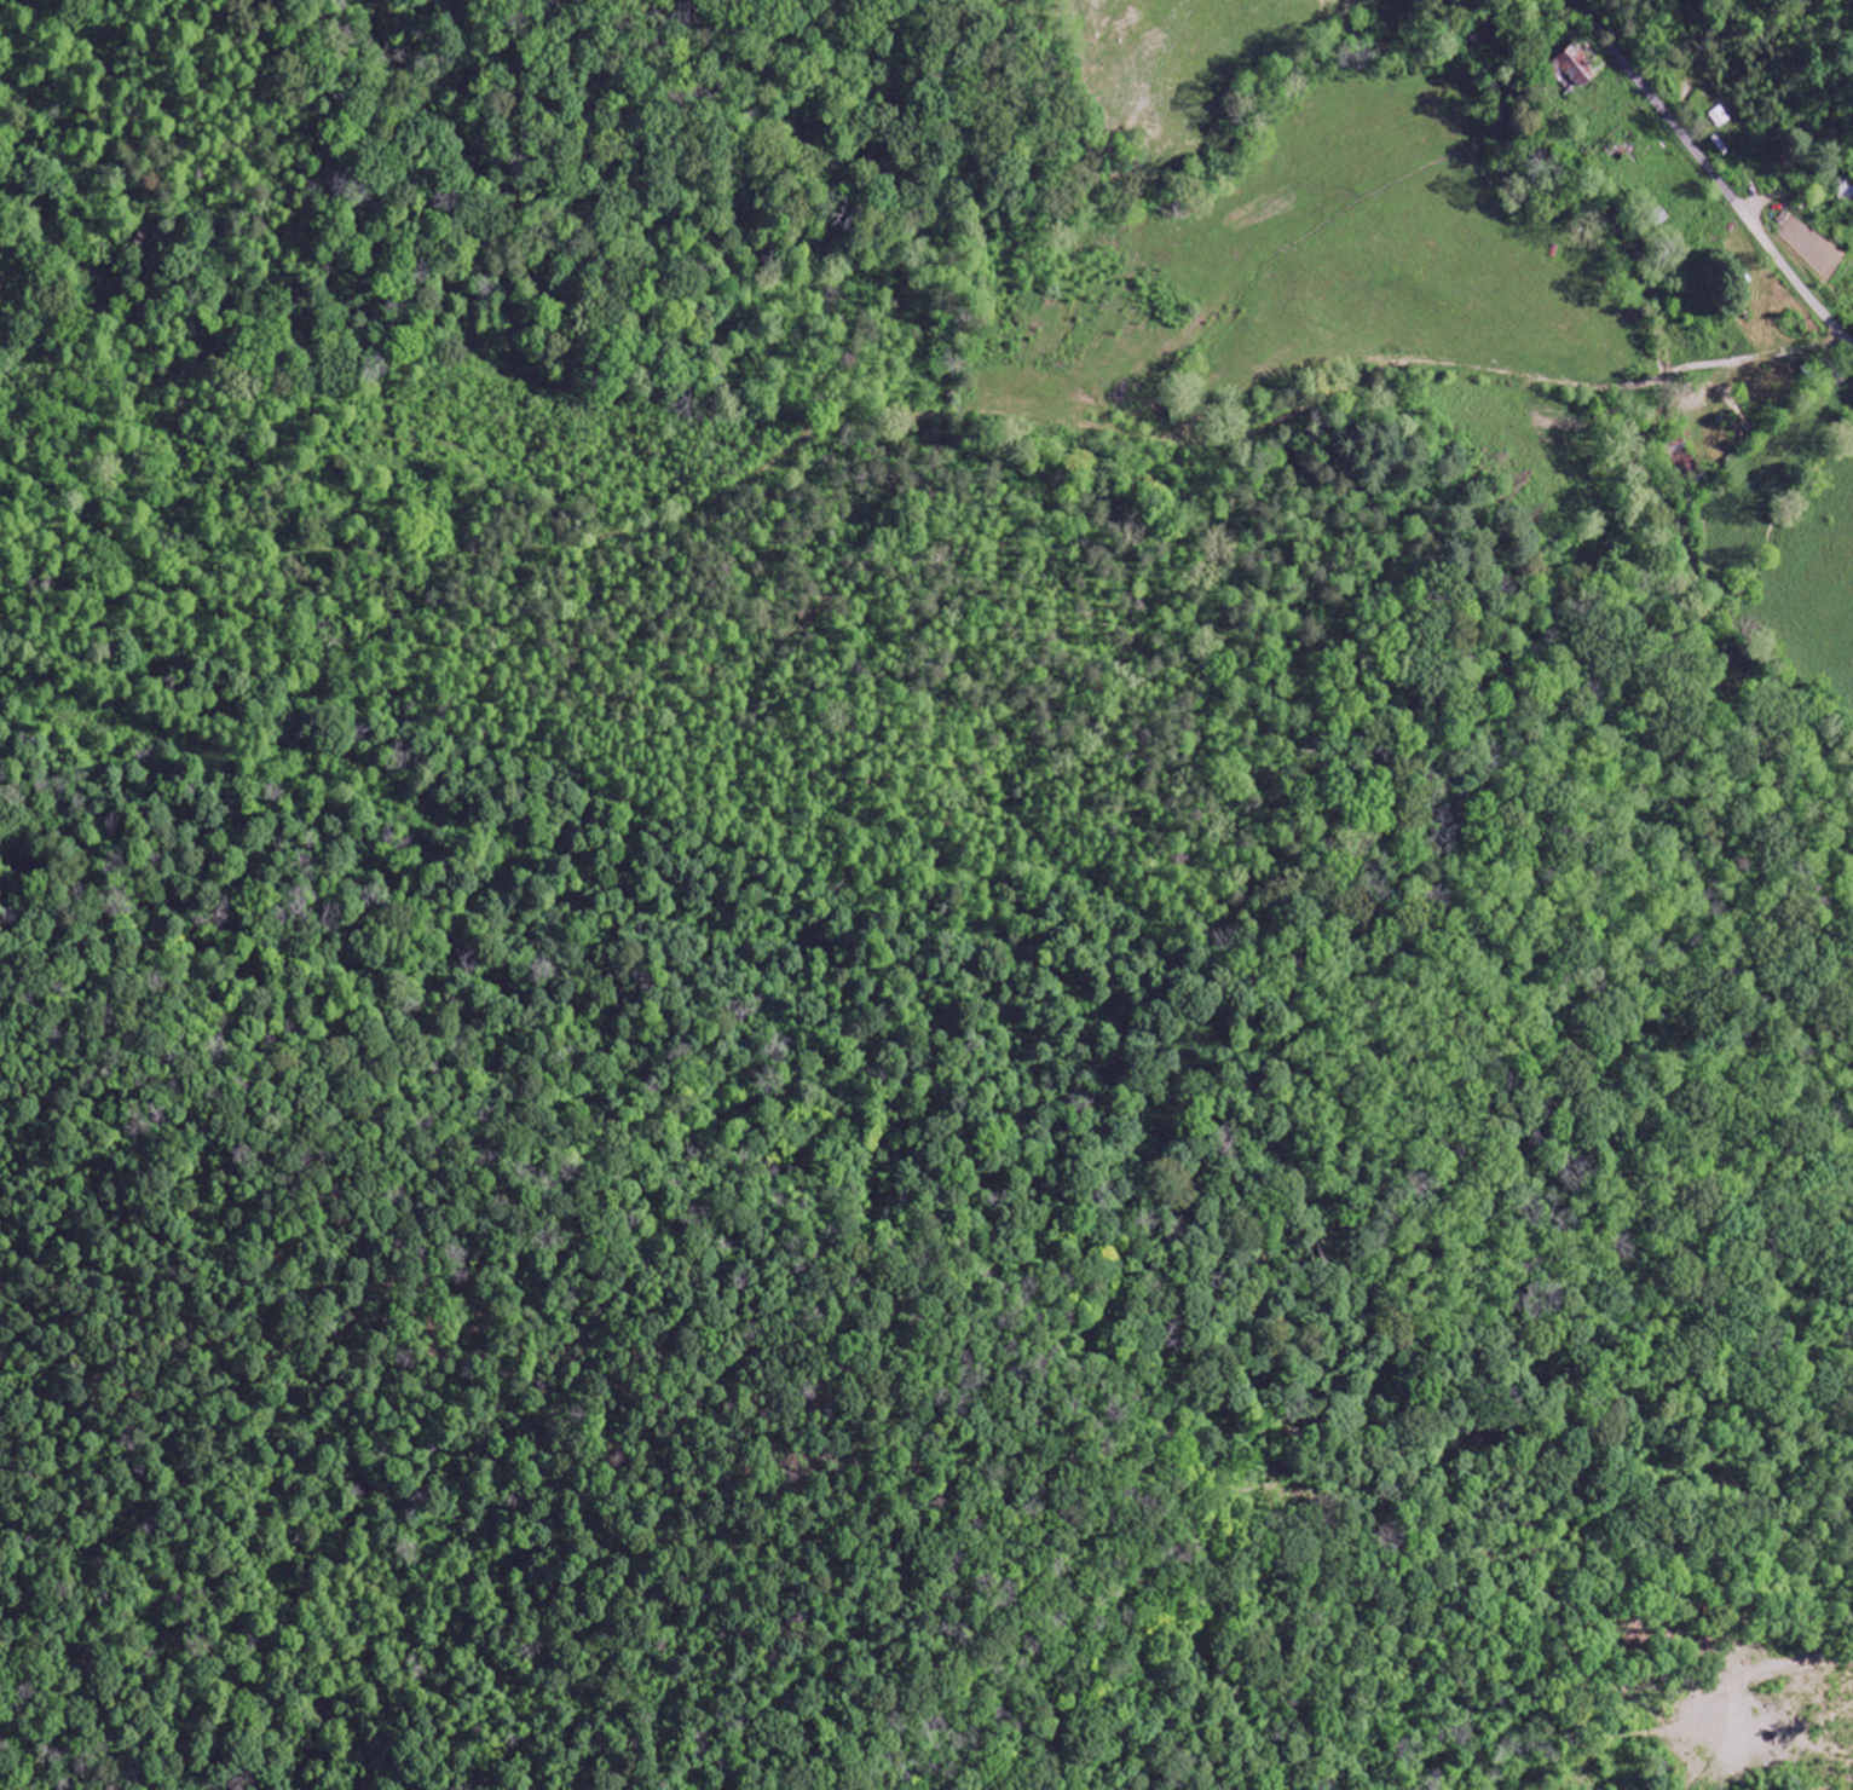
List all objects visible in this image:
road: (1710, 172)

